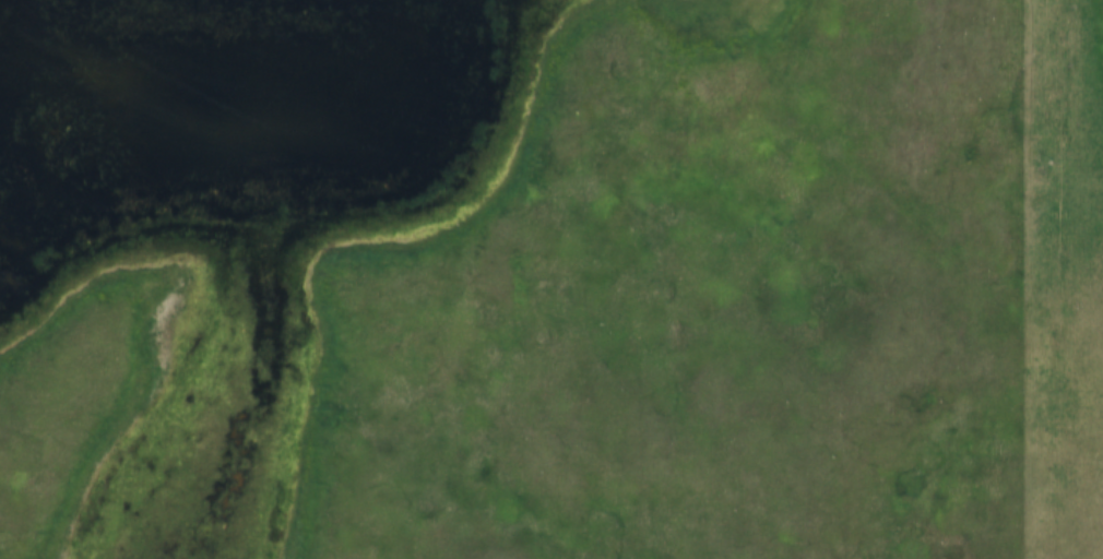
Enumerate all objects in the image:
road: (1006, 279)

